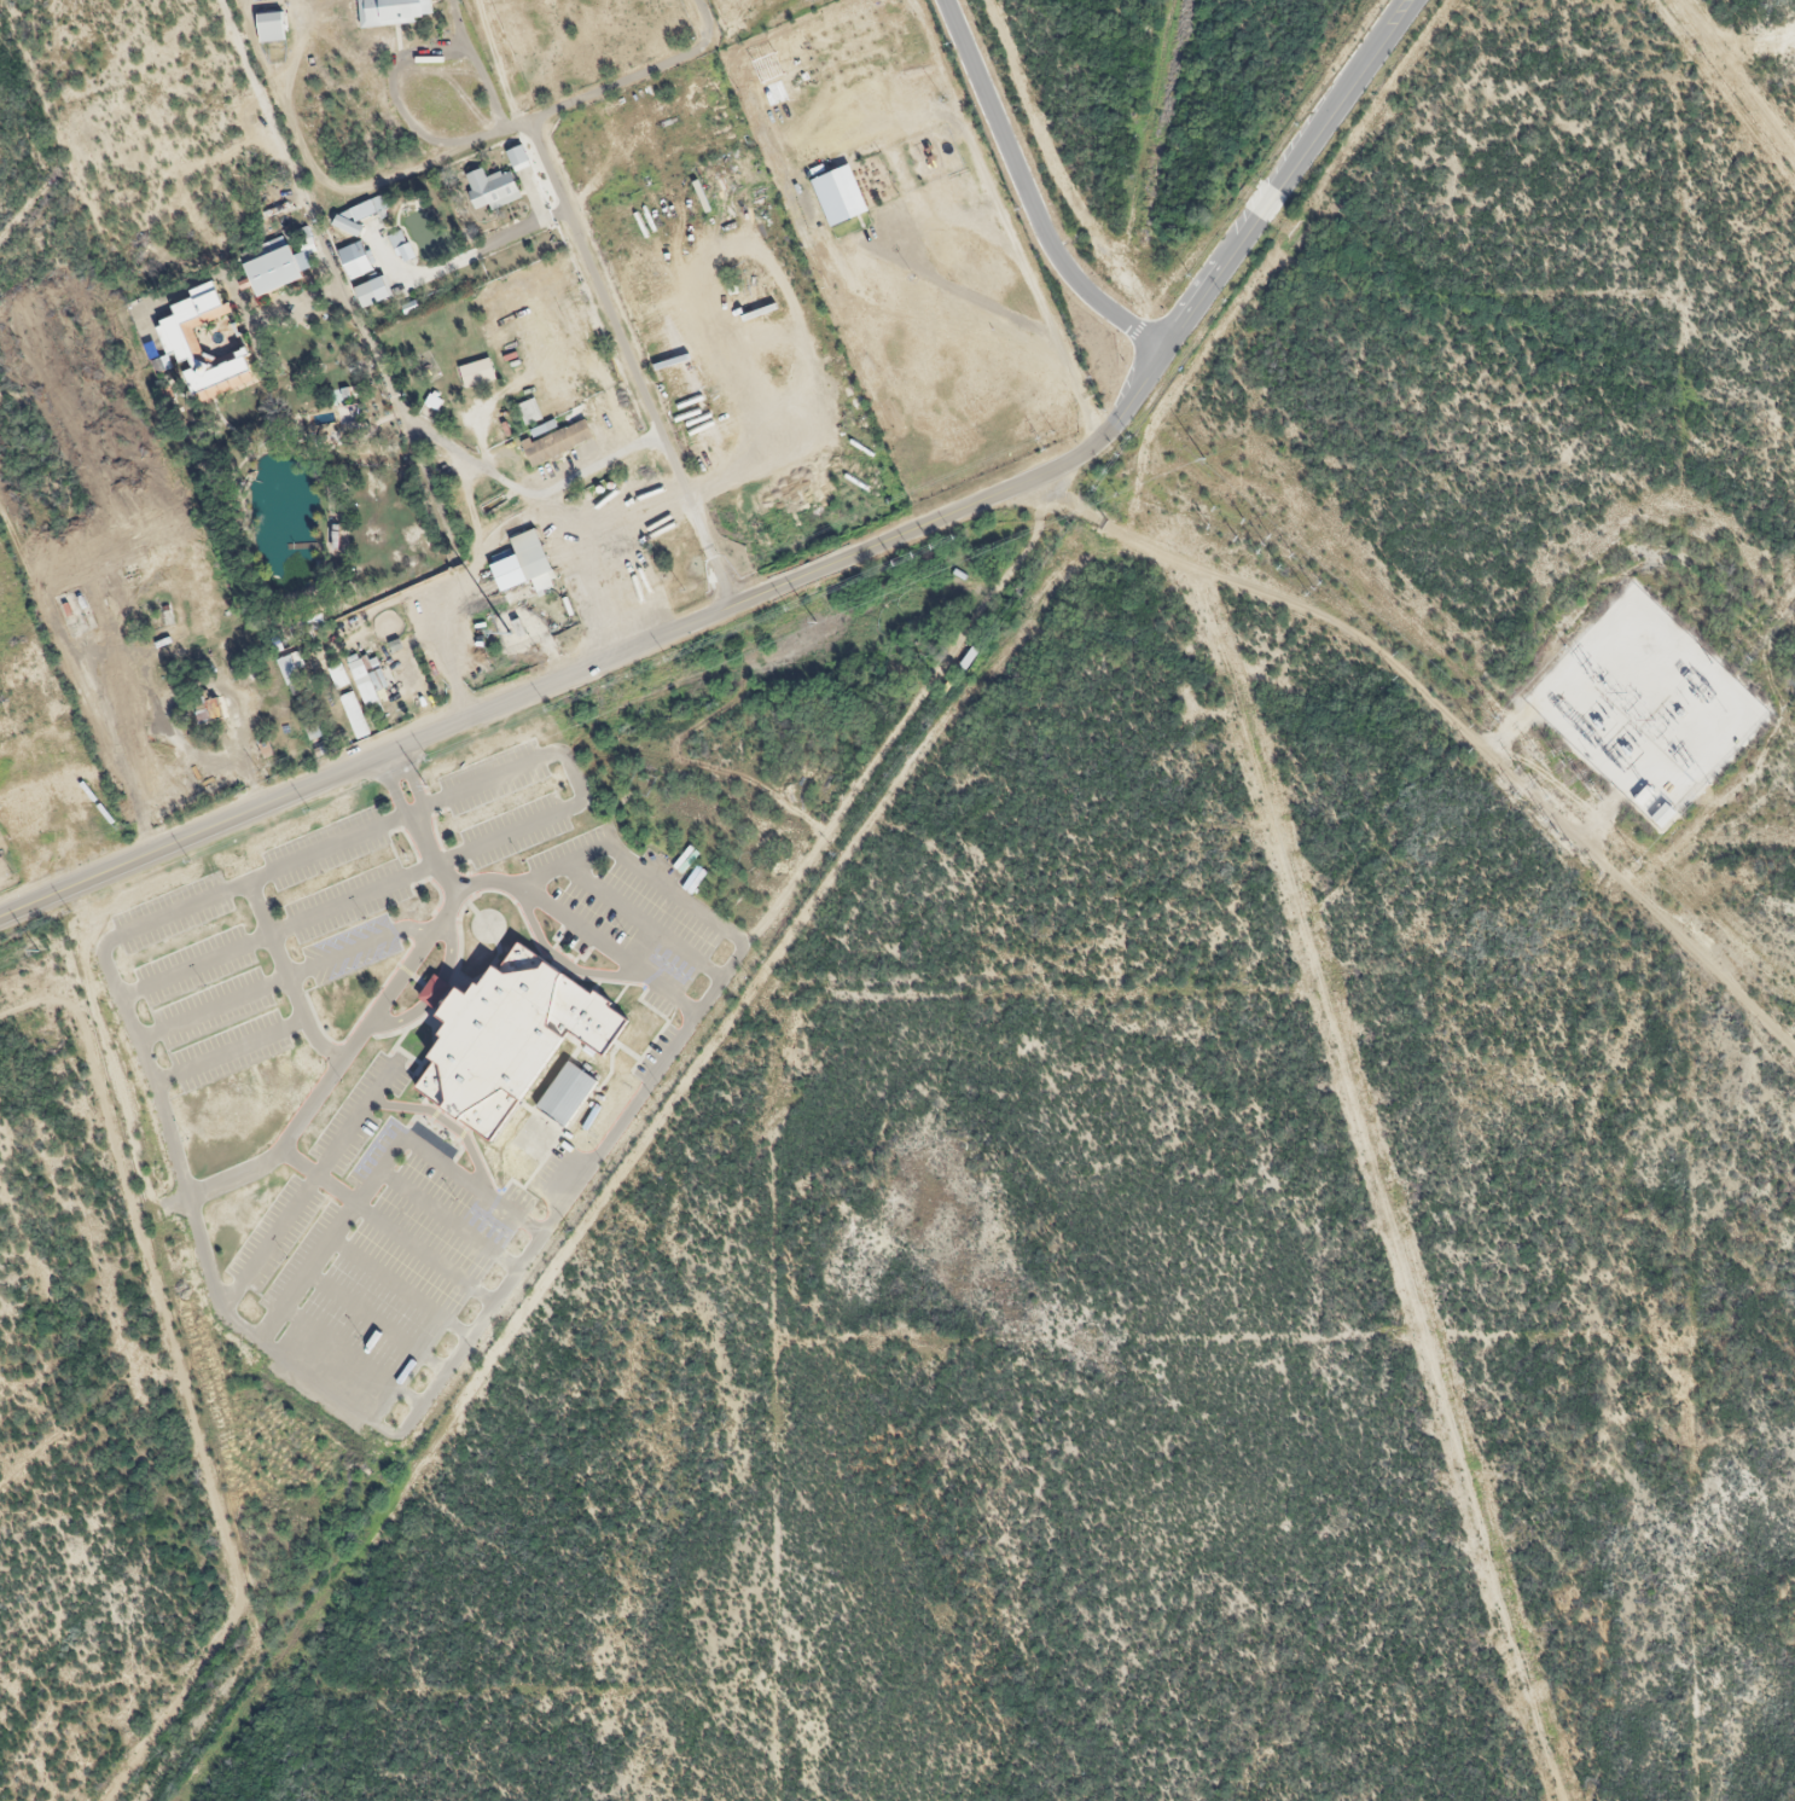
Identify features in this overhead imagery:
building: (393, 12)
building: (269, 28)
building: (517, 158)
building: (490, 190)
road: (1029, 196)
road: (1260, 217)
building: (349, 228)
road: (587, 251)
building: (353, 262)
building: (268, 267)
building: (366, 295)
building: (176, 338)
building: (557, 445)
power tower: (1206, 459)
building: (506, 574)
building: (66, 612)
building: (304, 623)
power tower: (815, 623)
power tower: (1567, 645)
road: (1373, 652)
power tower: (1590, 670)
building: (291, 675)
road: (557, 682)
building: (411, 705)
power substation: (1646, 708)
building: (207, 710)
building: (356, 711)
power tower: (1499, 719)
power tower: (1691, 767)
power tower: (1710, 785)
power tower: (426, 786)
building: (1662, 817)
power tower: (1637, 862)
road: (669, 885)
road: (353, 897)
road: (643, 918)
road: (581, 929)
road: (358, 946)
power tower: (39, 953)
road: (194, 964)
road: (286, 975)
road: (436, 989)
road: (383, 998)
road: (213, 1009)
building: (509, 1039)
road: (231, 1050)
building: (567, 1096)
road: (451, 1123)
road: (172, 1137)
road: (638, 1150)
road: (379, 1169)
road: (307, 1185)
road: (448, 1219)
road: (388, 1226)
road: (400, 1288)
road: (377, 1321)
road: (353, 1356)

